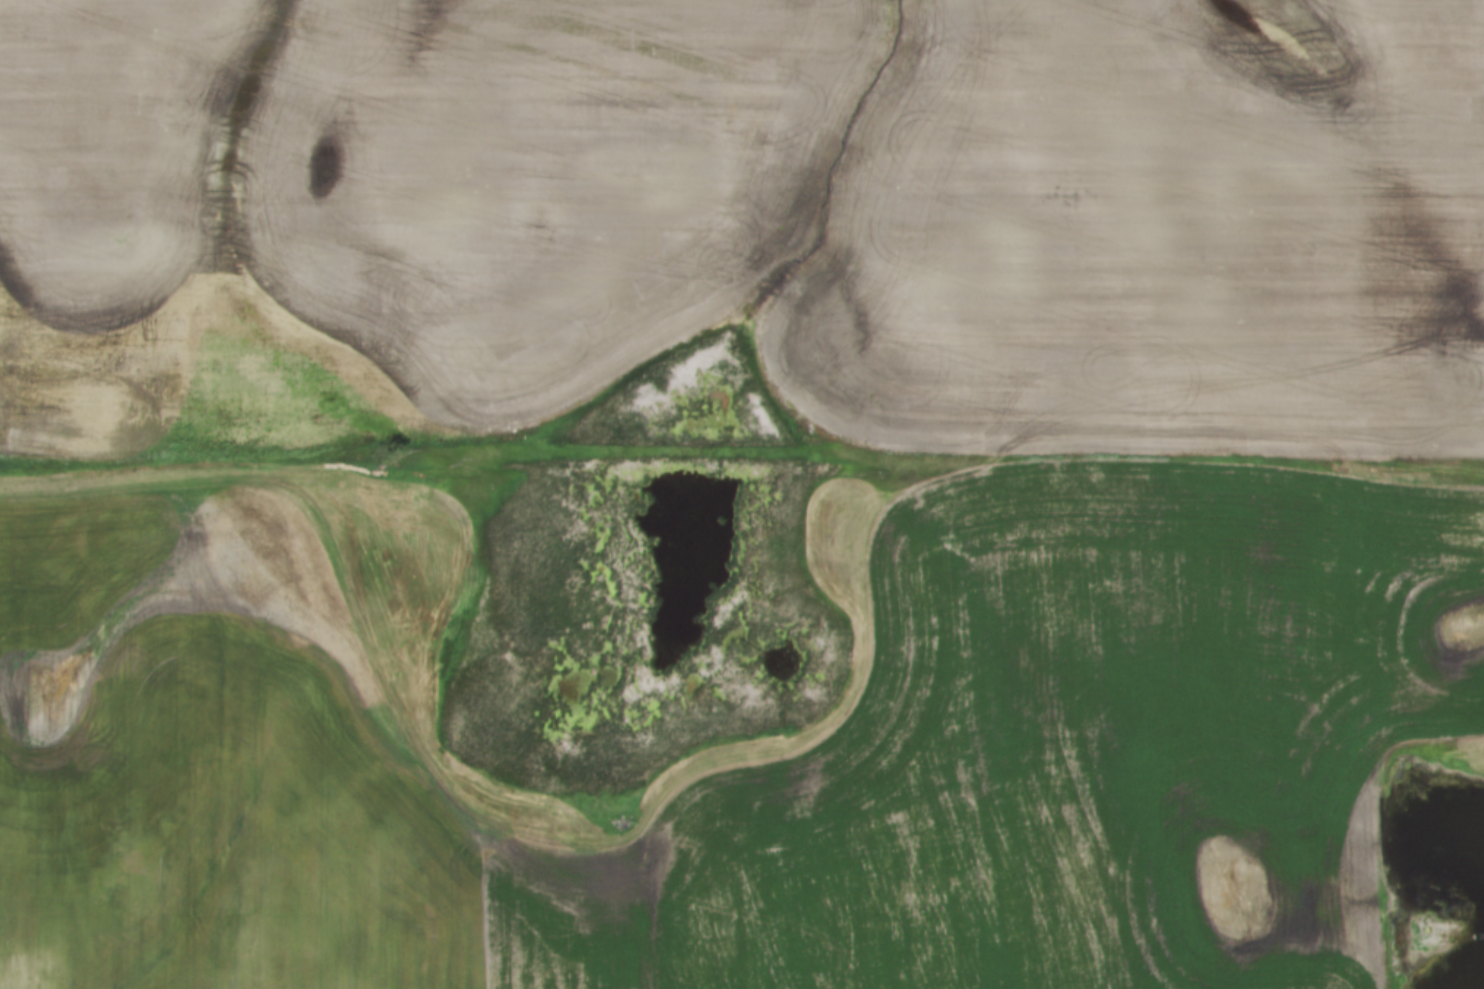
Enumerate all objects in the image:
road: (741, 475)
road: (419, 692)

